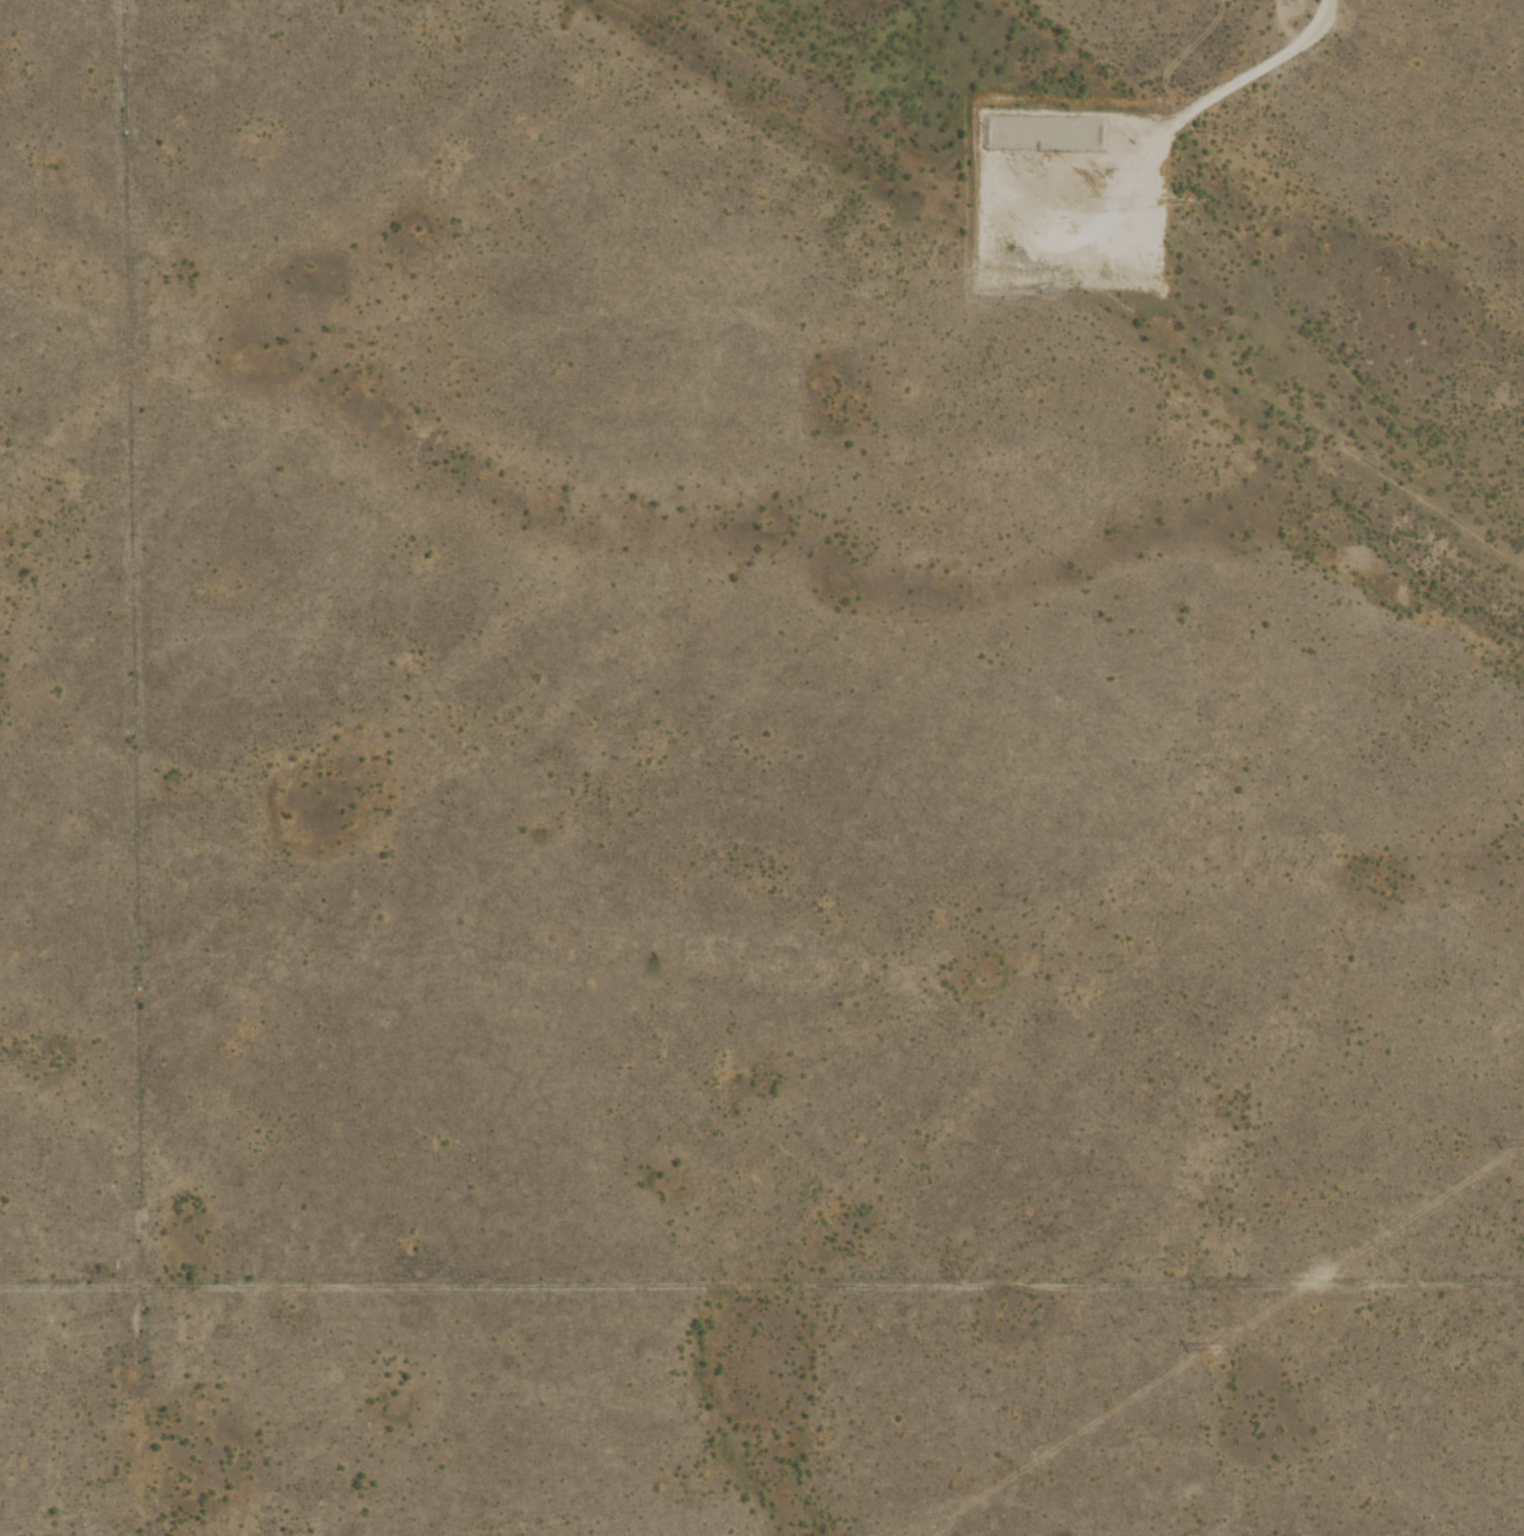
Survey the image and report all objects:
power tower: (1523, 1144)
power tower: (1210, 1346)

